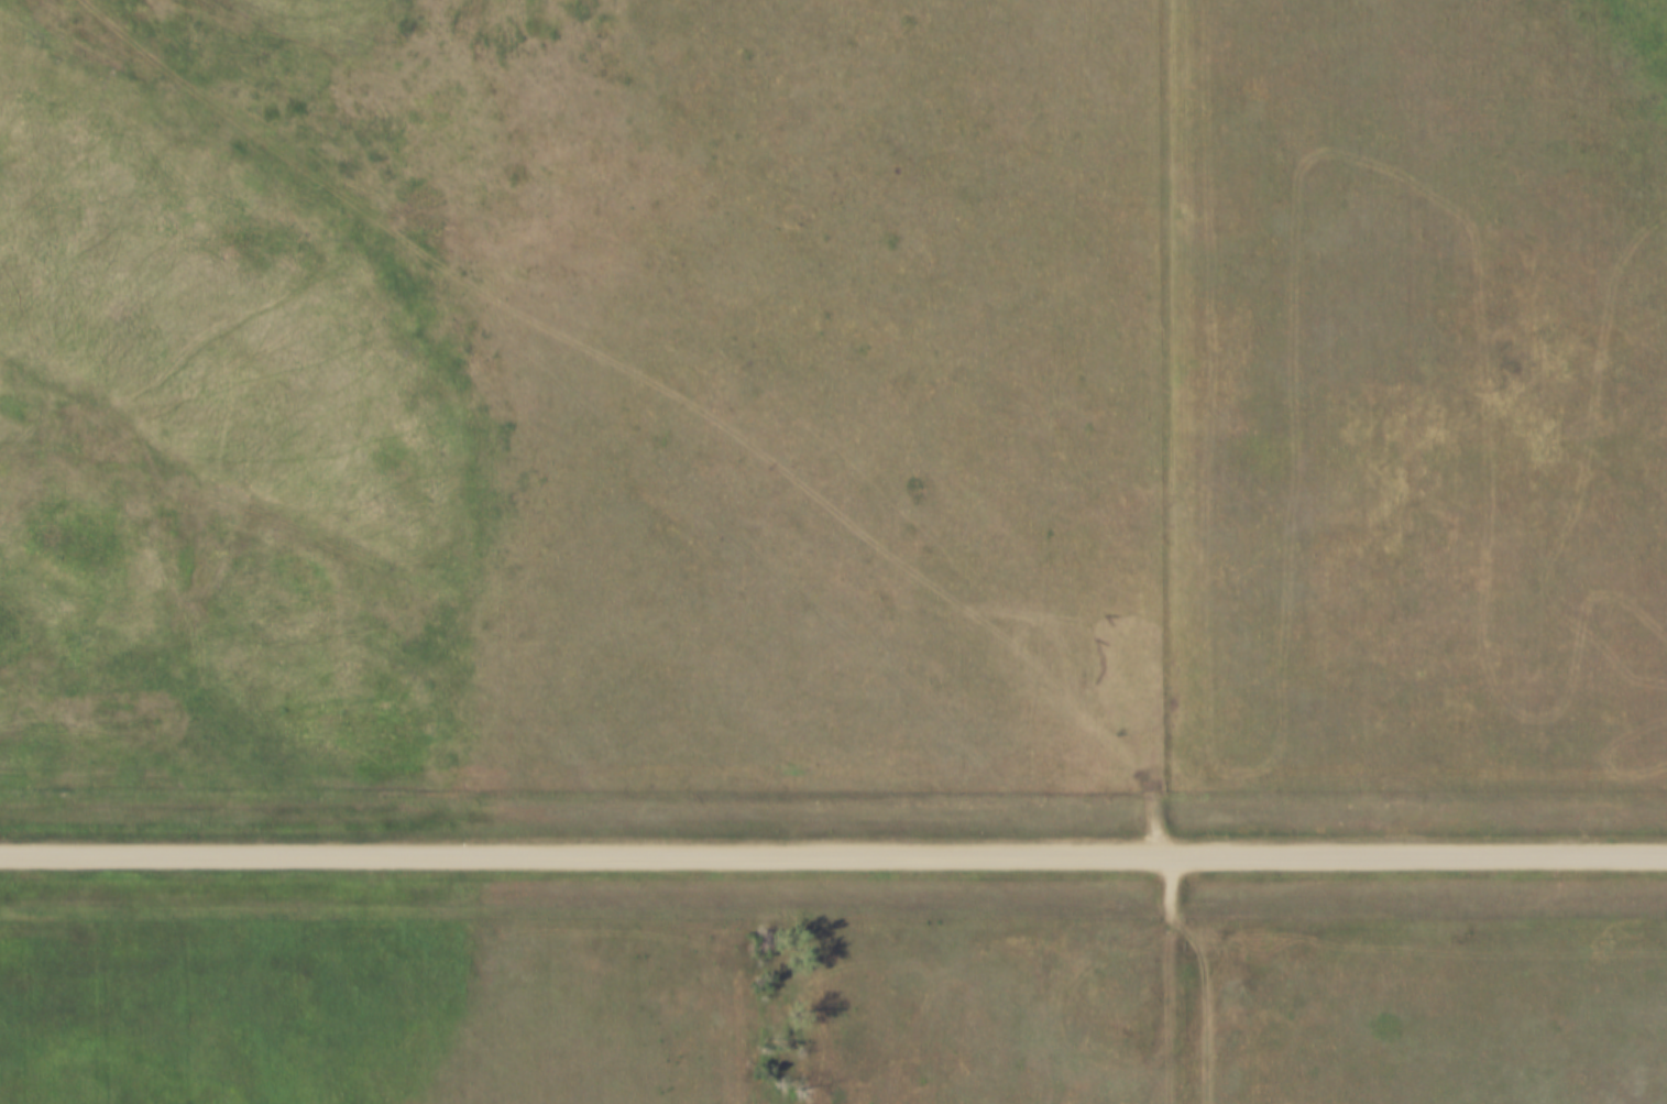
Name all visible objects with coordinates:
road: (833, 850)
road: (1200, 972)

